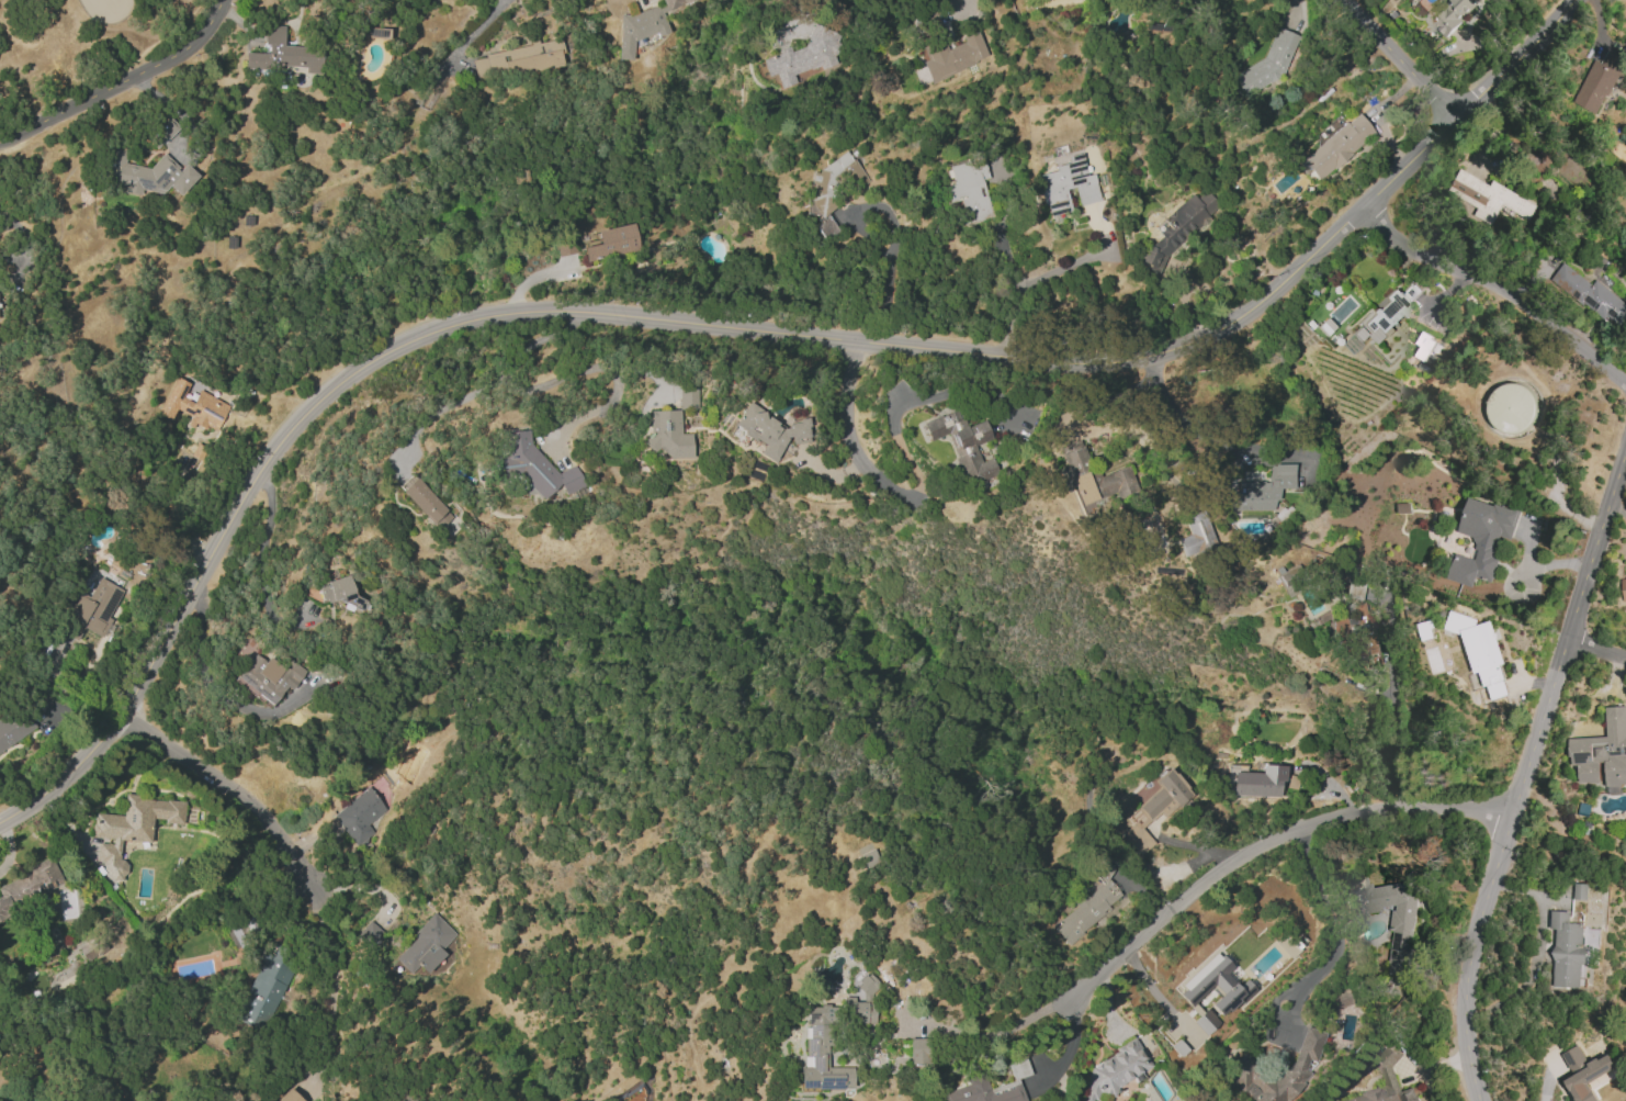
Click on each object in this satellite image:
road: (806, 1)
road: (960, 3)
building: (1453, 14)
building: (646, 26)
road: (473, 32)
building: (283, 53)
building: (803, 56)
building: (952, 56)
road: (1401, 58)
building: (518, 60)
building: (1268, 63)
road: (124, 83)
building: (1599, 83)
road: (1376, 117)
building: (1336, 146)
building: (147, 175)
building: (1066, 186)
building: (831, 188)
building: (969, 189)
building: (1491, 199)
building: (1176, 228)
building: (612, 243)
road: (1006, 260)
road: (1082, 260)
road: (532, 277)
road: (1499, 284)
building: (1591, 295)
building: (1387, 312)
road: (1010, 323)
road: (734, 325)
building: (1426, 348)
road: (486, 384)
building: (688, 396)
road: (912, 401)
building: (195, 406)
building: (1511, 408)
road: (1195, 429)
building: (769, 430)
building: (668, 434)
road: (847, 434)
building: (962, 443)
building: (534, 465)
road: (826, 472)
building: (1093, 479)
building: (1263, 490)
building: (424, 501)
building: (1195, 535)
building: (1481, 541)
road: (1549, 564)
road: (258, 571)
building: (1624, 588)
building: (339, 592)
building: (91, 609)
building: (1363, 631)
road: (1597, 650)
building: (1480, 651)
building: (267, 678)
road: (215, 688)
building: (14, 727)
road: (1393, 740)
building: (1603, 753)
road: (1526, 771)
building: (1253, 782)
road: (233, 788)
building: (364, 810)
building: (129, 828)
road: (1265, 843)
building: (27, 885)
road: (361, 887)
building: (1580, 892)
building: (1089, 905)
road: (1329, 915)
building: (1402, 920)
building: (370, 934)
building: (426, 944)
building: (89, 947)
building: (1567, 951)
road: (334, 986)
building: (267, 987)
building: (1212, 988)
building: (1339, 998)
building: (860, 1004)
building: (1205, 1022)
road: (997, 1032)
building: (916, 1049)
building: (821, 1054)
building: (1303, 1061)
building: (1115, 1070)
building: (1584, 1074)
building: (975, 1079)
building: (1385, 1080)
building: (289, 1096)

